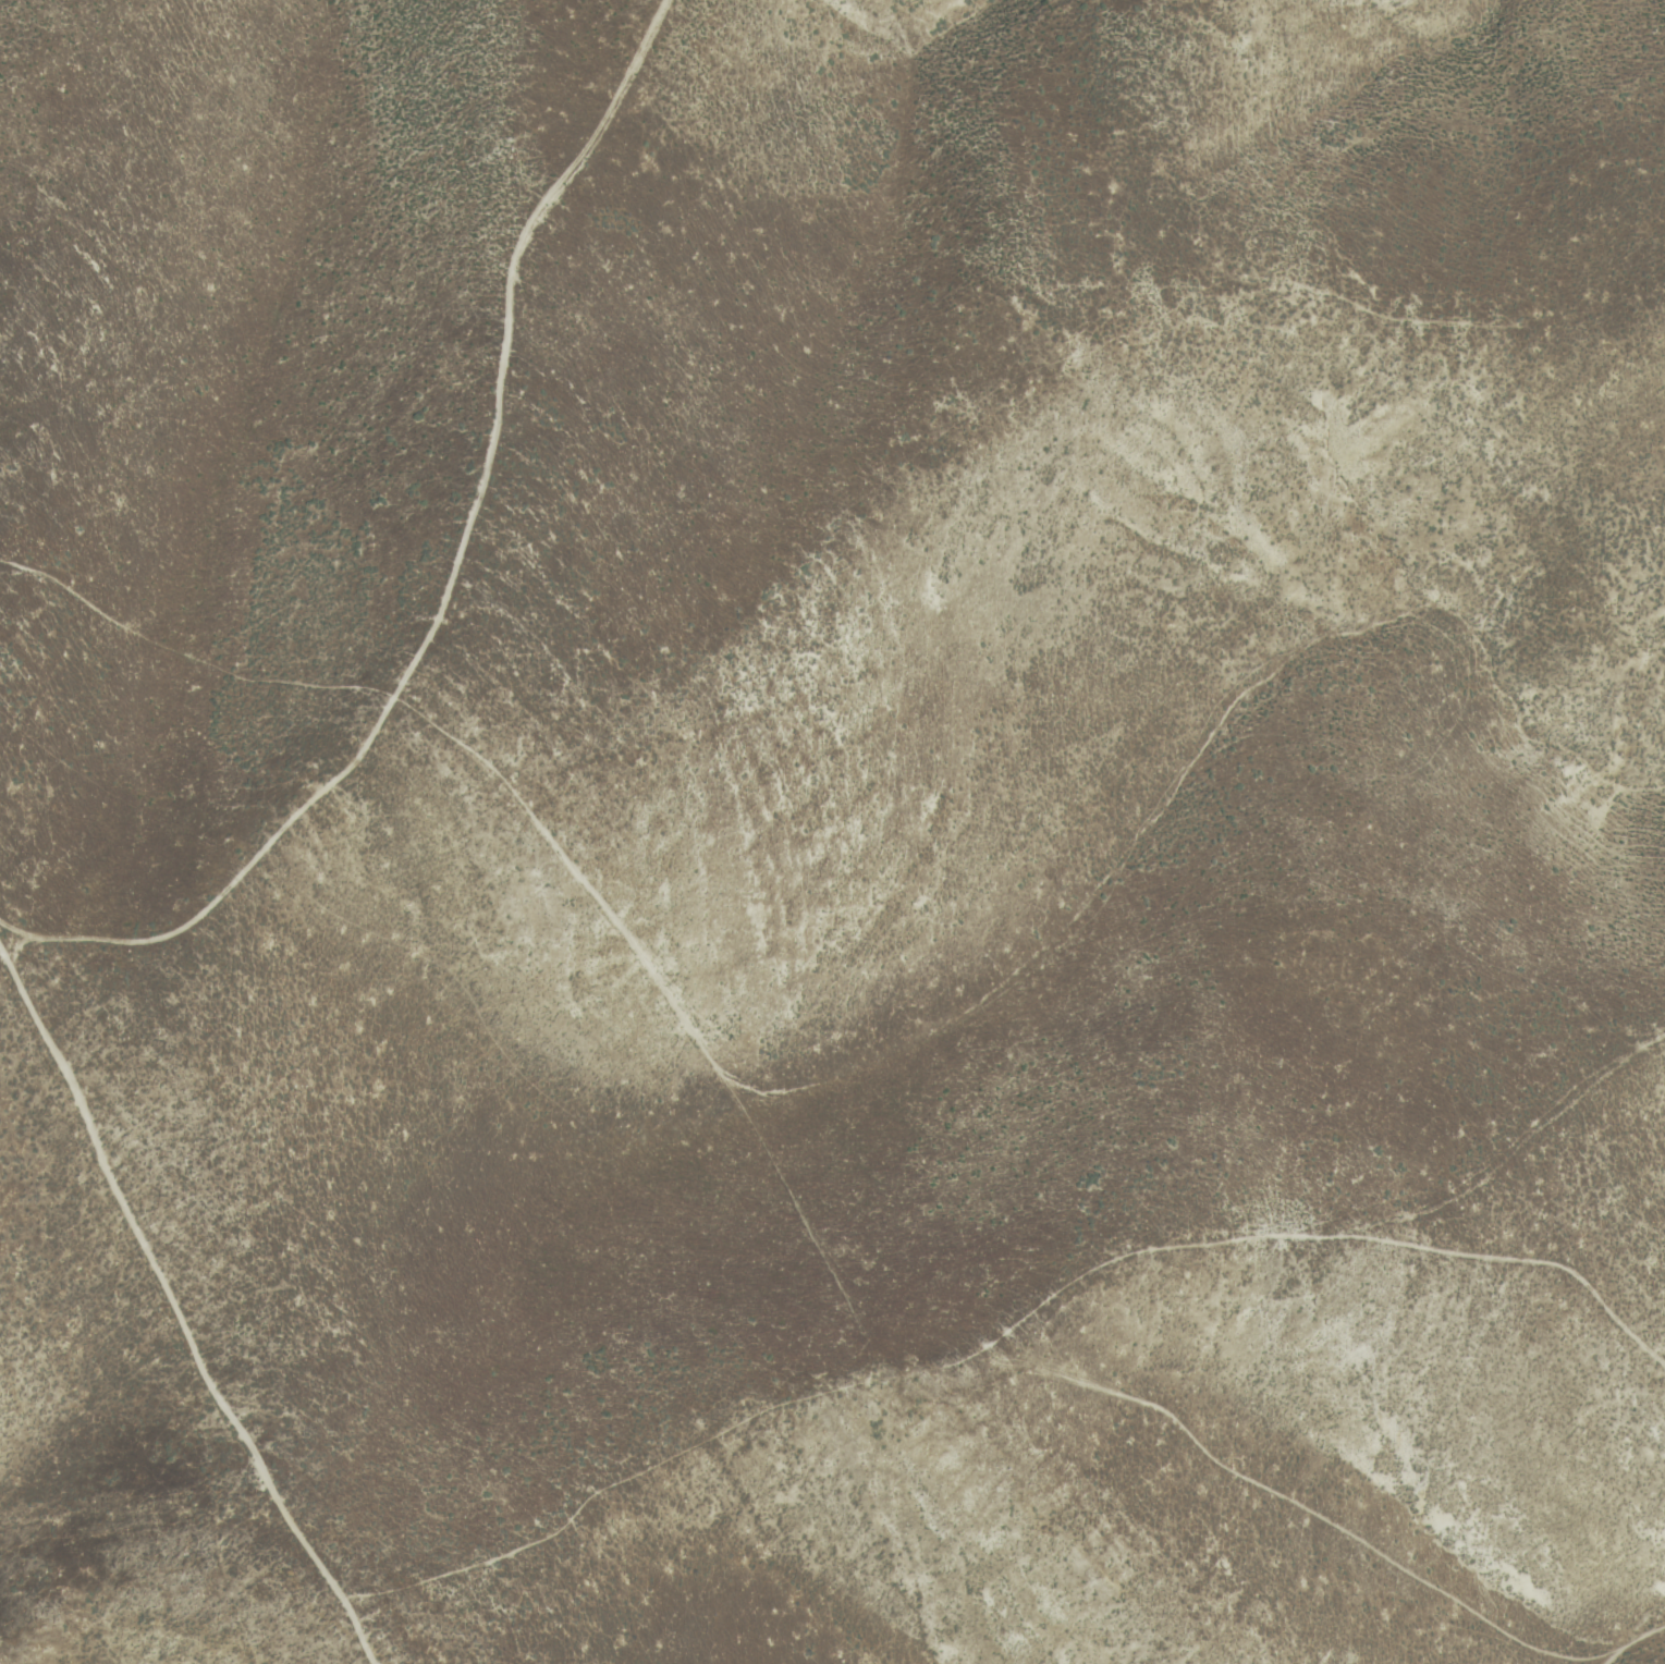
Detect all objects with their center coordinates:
road: (449, 584)
road: (181, 1311)

